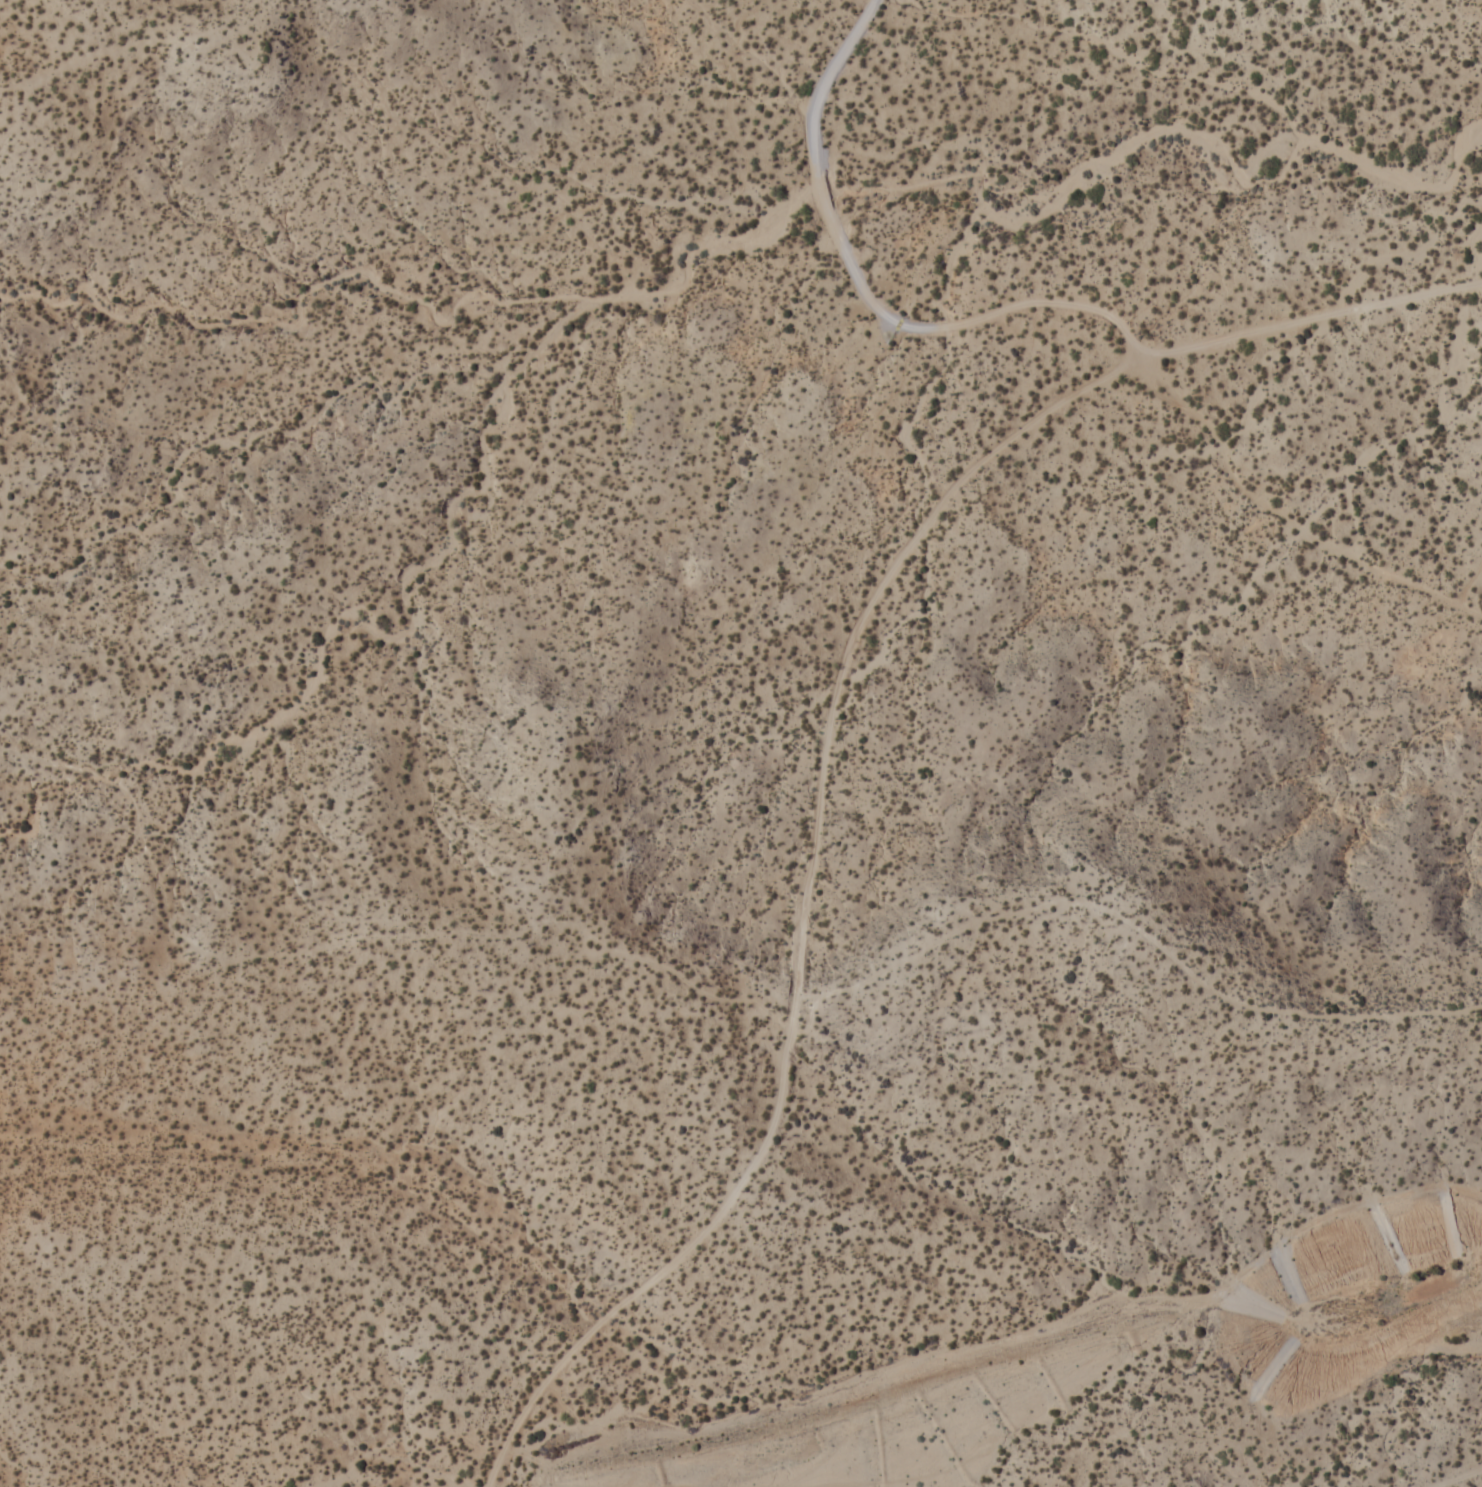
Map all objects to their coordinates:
road: (142, 39)
road: (858, 291)
road: (1308, 319)
road: (799, 909)

